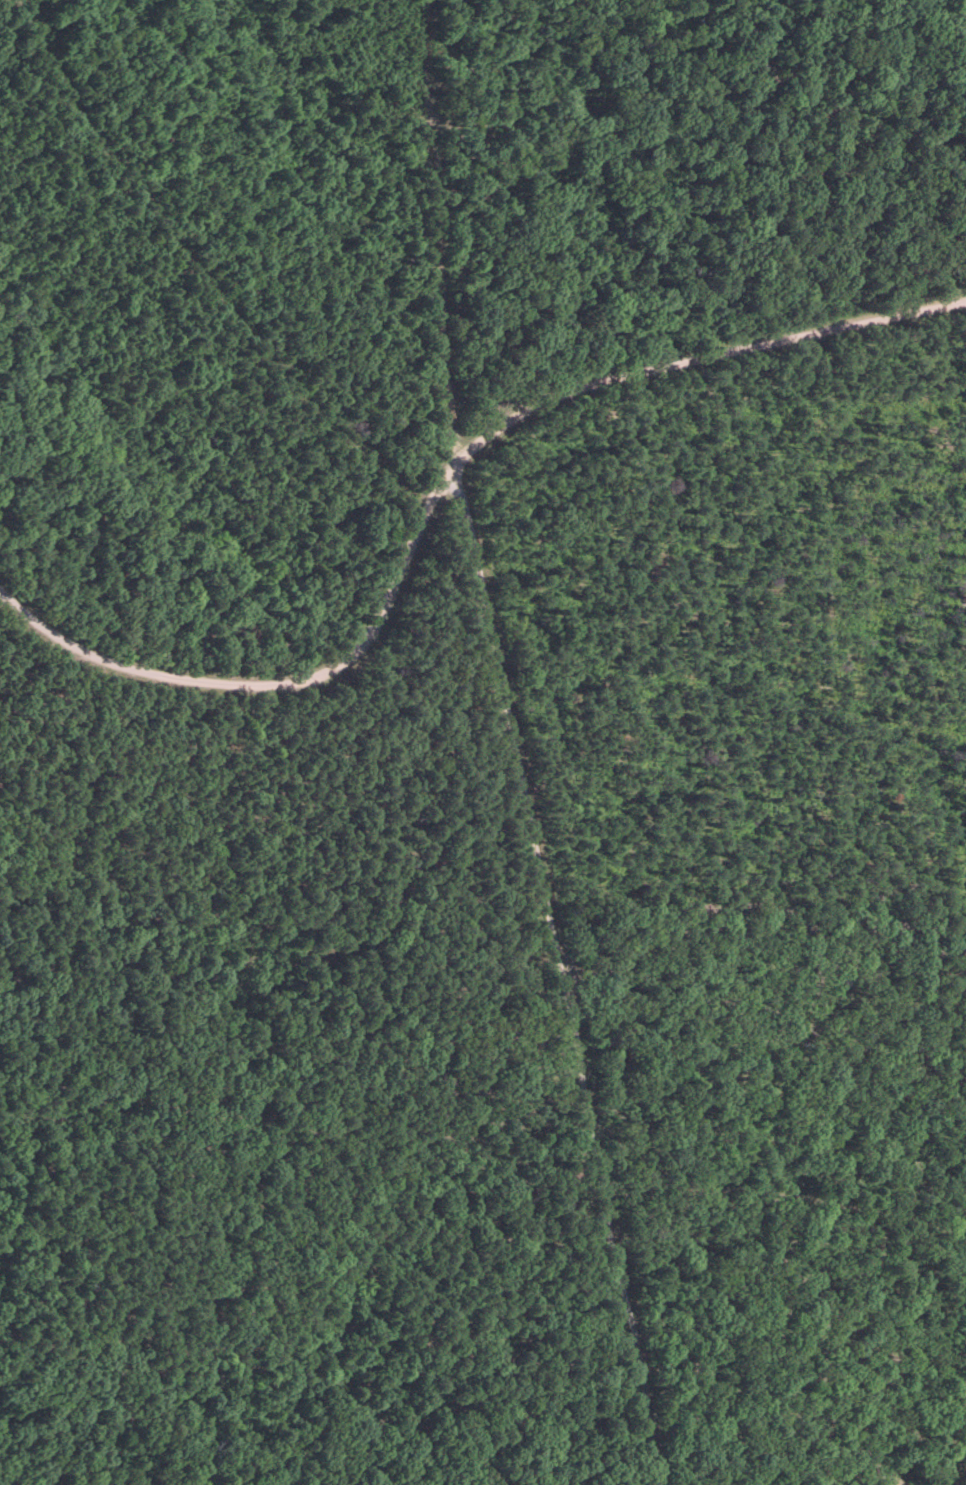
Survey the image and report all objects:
road: (438, 488)
road: (565, 973)

